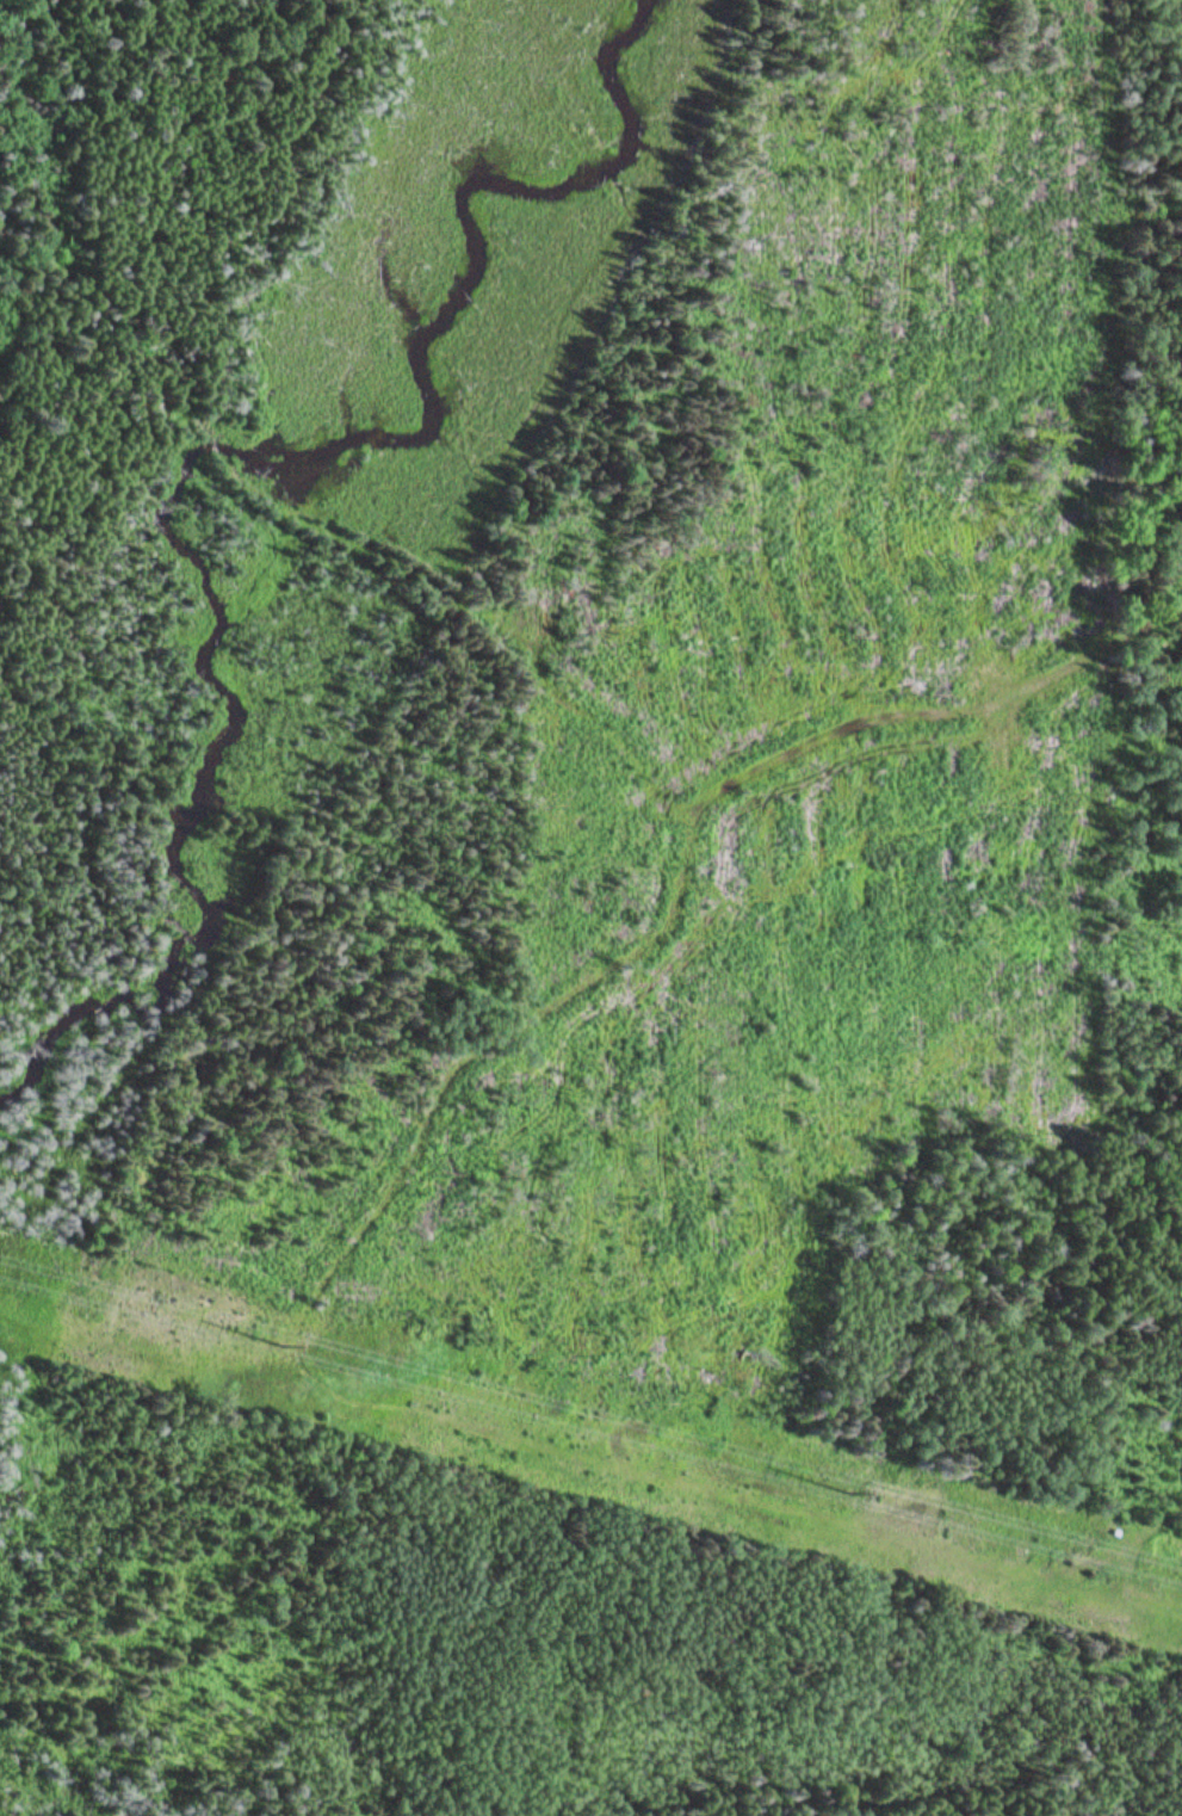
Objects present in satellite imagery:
road: (662, 871)
power tower: (286, 1338)
power tower: (852, 1496)

